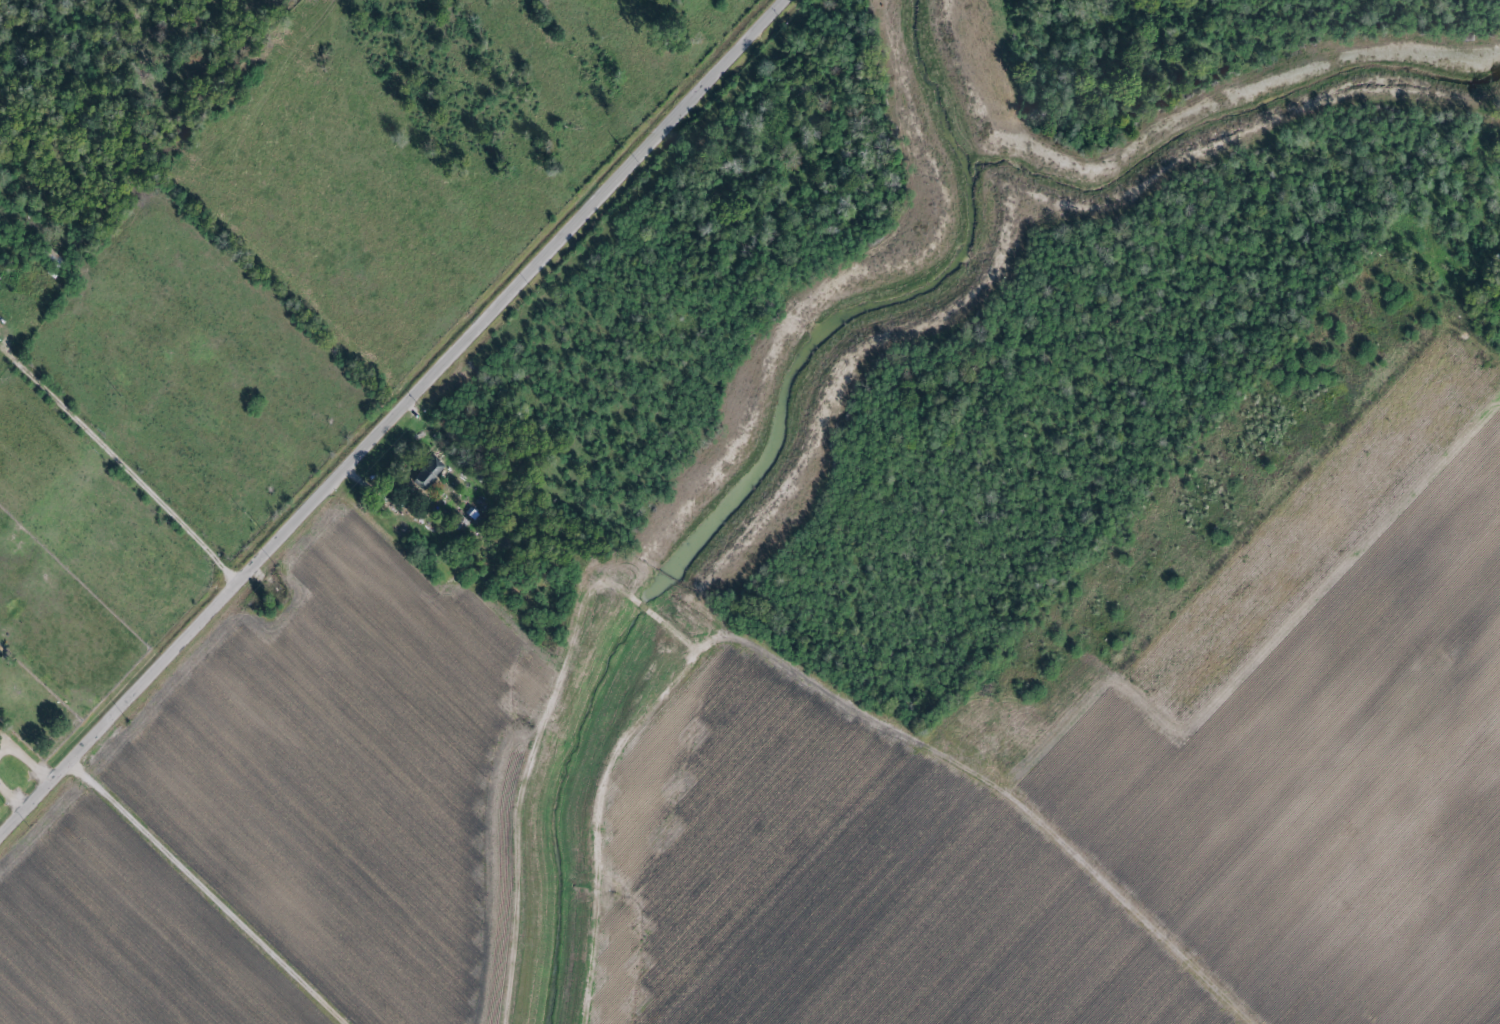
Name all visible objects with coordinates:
road: (393, 419)
road: (121, 465)
building: (425, 474)
road: (29, 761)
road: (13, 798)
road: (215, 892)

